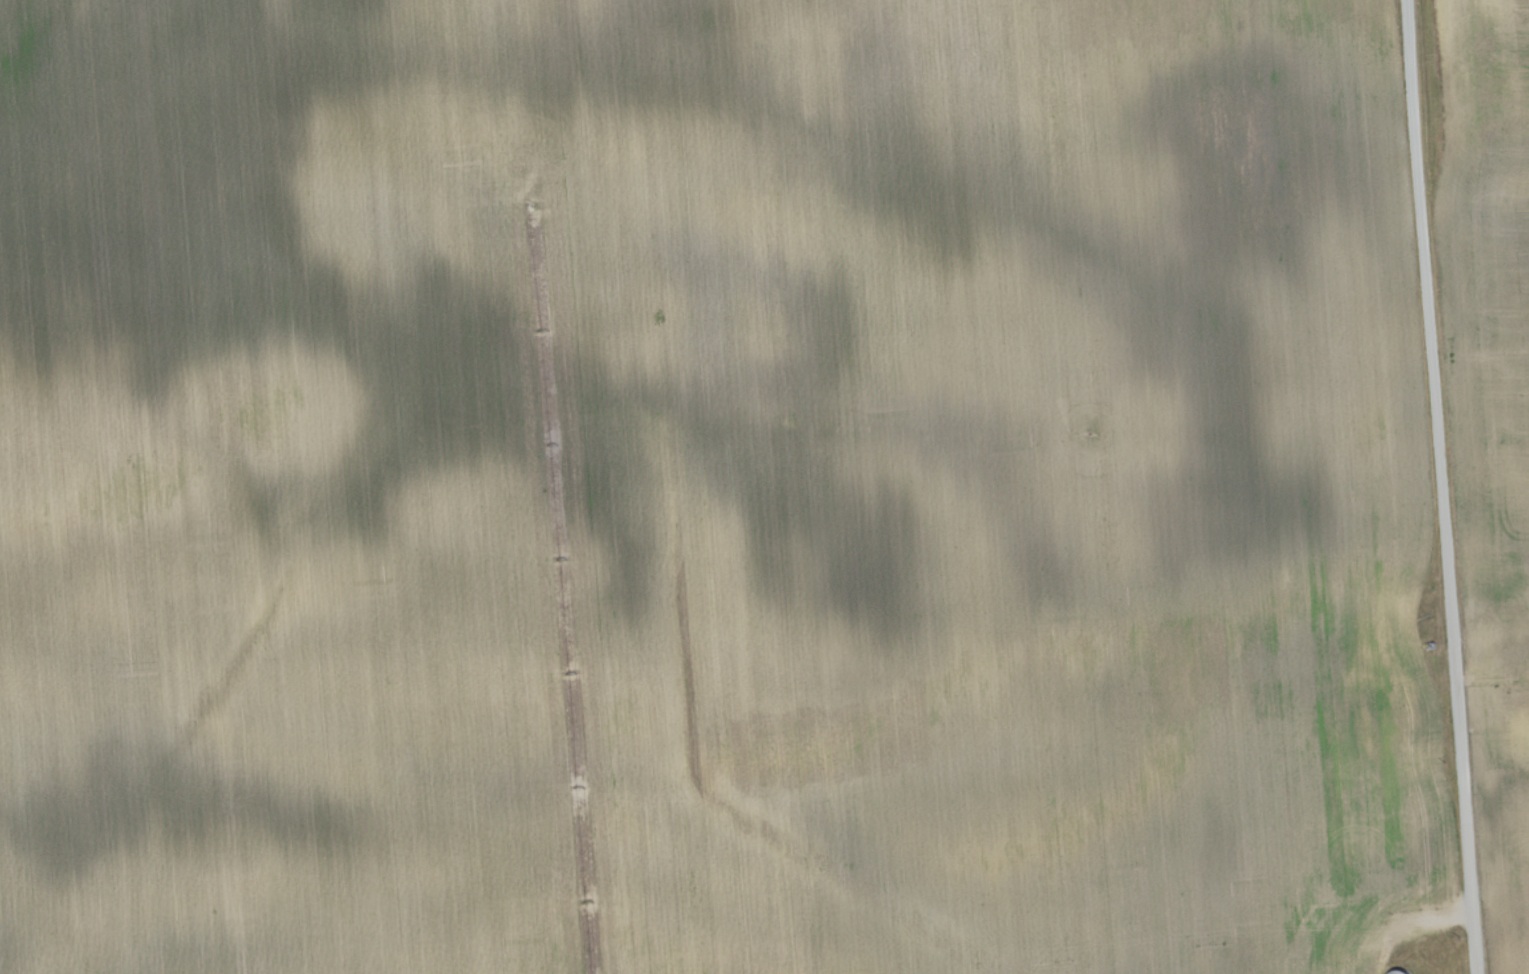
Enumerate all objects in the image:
road: (1442, 487)

